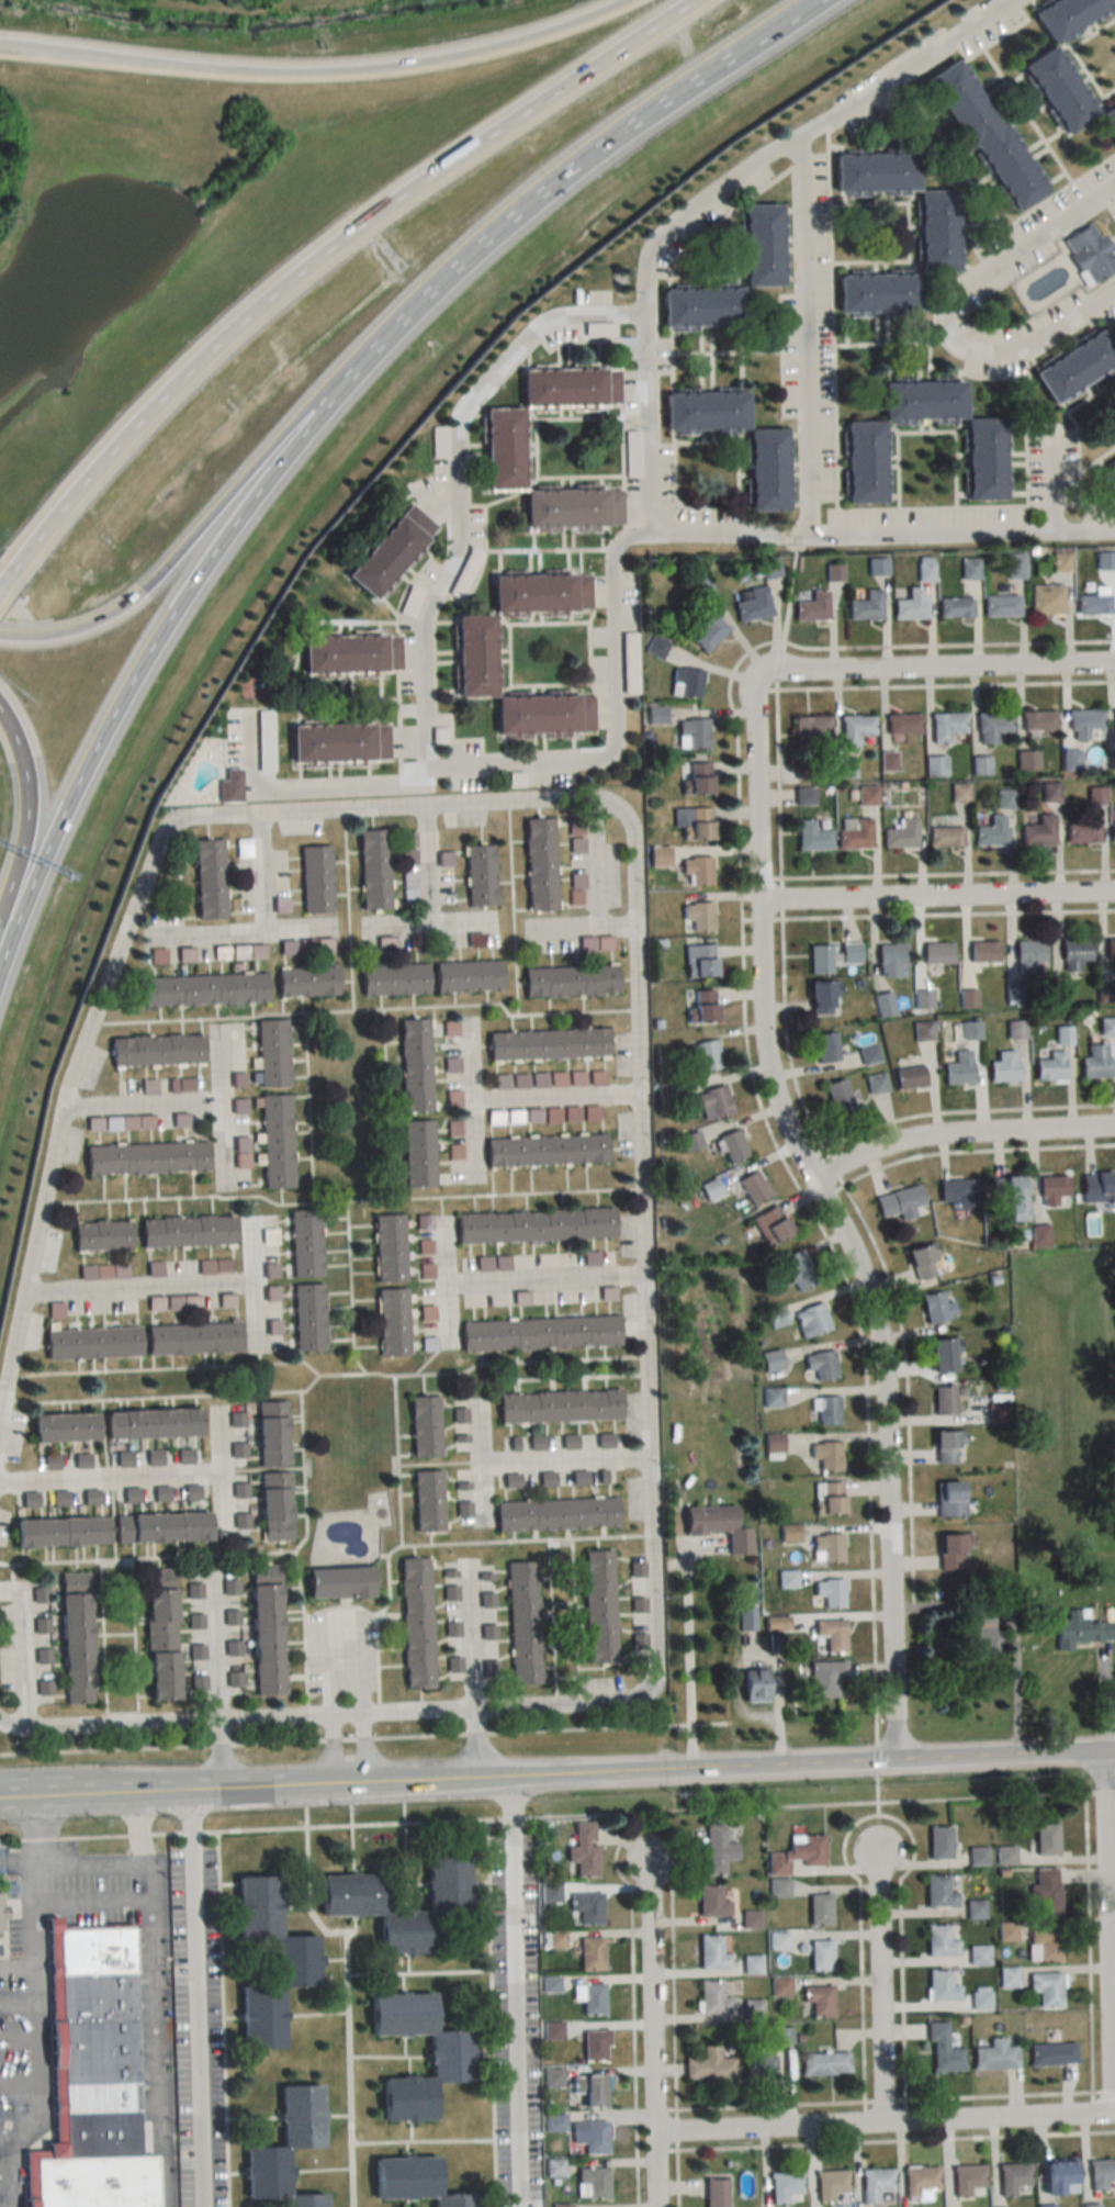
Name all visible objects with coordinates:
building: (1067, 14)
road: (3, 43)
road: (90, 54)
road: (401, 61)
building: (1057, 90)
building: (1108, 117)
building: (983, 135)
road: (796, 139)
road: (469, 145)
road: (553, 184)
building: (935, 232)
building: (759, 245)
building: (1090, 251)
building: (876, 293)
road: (948, 313)
road: (806, 336)
building: (1074, 368)
building: (570, 388)
road: (646, 429)
road: (120, 432)
building: (503, 449)
building: (982, 460)
building: (861, 462)
building: (765, 471)
building: (1108, 477)
road: (455, 483)
road: (232, 498)
road: (882, 537)
building: (388, 550)
building: (1015, 565)
building: (969, 568)
building: (539, 593)
building: (1047, 600)
building: (911, 604)
building: (1093, 604)
building: (754, 605)
building: (1001, 605)
building: (866, 606)
building: (812, 607)
building: (956, 607)
road: (76, 625)
building: (706, 631)
building: (656, 648)
road: (146, 652)
building: (350, 654)
building: (472, 656)
road: (937, 670)
building: (686, 683)
building: (542, 715)
building: (655, 716)
building: (232, 718)
building: (1039, 720)
building: (903, 724)
building: (1083, 724)
road: (612, 726)
building: (947, 726)
building: (992, 726)
building: (855, 728)
road: (12, 731)
building: (692, 733)
building: (337, 742)
building: (808, 743)
building: (264, 760)
building: (1071, 760)
building: (935, 765)
building: (845, 766)
building: (697, 778)
building: (229, 786)
road: (308, 788)
building: (1050, 792)
building: (867, 795)
building: (1096, 795)
building: (806, 796)
building: (1005, 799)
building: (695, 824)
building: (1039, 831)
building: (855, 832)
building: (993, 832)
building: (1113, 832)
building: (1083, 833)
building: (902, 834)
building: (812, 836)
building: (945, 837)
road: (26, 839)
building: (575, 845)
building: (241, 848)
building: (407, 848)
building: (658, 856)
road: (594, 861)
building: (539, 864)
road: (428, 866)
building: (372, 870)
building: (697, 871)
road: (266, 872)
building: (478, 875)
building: (207, 880)
building: (315, 880)
building: (409, 884)
building: (576, 888)
road: (936, 897)
building: (698, 919)
road: (581, 925)
road: (429, 926)
road: (241, 929)
road: (5, 937)
building: (1111, 949)
building: (984, 952)
building: (1029, 952)
building: (849, 953)
building: (937, 953)
building: (1074, 953)
building: (819, 960)
building: (890, 960)
building: (698, 961)
building: (466, 977)
building: (392, 981)
building: (305, 982)
building: (568, 982)
building: (202, 990)
building: (1059, 992)
building: (821, 997)
building: (924, 999)
road: (99, 1001)
building: (885, 1004)
building: (700, 1007)
building: (1107, 1027)
building: (450, 1029)
building: (1017, 1029)
building: (970, 1030)
building: (923, 1031)
building: (1063, 1035)
building: (545, 1044)
building: (825, 1048)
building: (155, 1050)
building: (271, 1053)
building: (868, 1054)
building: (705, 1055)
building: (1095, 1062)
building: (414, 1065)
building: (1003, 1066)
building: (1050, 1067)
building: (958, 1068)
building: (909, 1077)
building: (876, 1083)
road: (554, 1095)
building: (837, 1096)
road: (471, 1099)
building: (712, 1103)
road: (140, 1105)
road: (221, 1107)
road: (959, 1135)
building: (275, 1142)
building: (689, 1142)
building: (731, 1145)
building: (544, 1151)
building: (240, 1152)
building: (417, 1154)
building: (144, 1158)
building: (1097, 1187)
building: (752, 1188)
building: (710, 1189)
building: (1054, 1191)
building: (960, 1192)
building: (1007, 1196)
building: (899, 1201)
road: (833, 1217)
building: (423, 1223)
building: (770, 1225)
building: (533, 1226)
building: (184, 1232)
building: (100, 1236)
building: (304, 1244)
building: (424, 1246)
building: (387, 1248)
building: (921, 1263)
building: (213, 1267)
building: (425, 1271)
building: (796, 1271)
road: (446, 1276)
road: (544, 1282)
road: (255, 1285)
road: (139, 1287)
building: (936, 1308)
building: (427, 1314)
building: (776, 1317)
building: (307, 1319)
building: (811, 1320)
building: (391, 1323)
building: (538, 1334)
building: (191, 1338)
building: (90, 1344)
building: (939, 1356)
building: (770, 1360)
building: (821, 1364)
building: (772, 1397)
building: (943, 1401)
building: (557, 1405)
building: (826, 1410)
building: (994, 1413)
building: (236, 1420)
building: (150, 1424)
building: (424, 1426)
building: (60, 1429)
building: (270, 1434)
building: (568, 1442)
building: (536, 1443)
building: (946, 1446)
building: (238, 1449)
building: (825, 1454)
building: (183, 1457)
road: (480, 1461)
road: (564, 1463)
road: (647, 1468)
road: (219, 1472)
road: (110, 1477)
building: (578, 1477)
building: (545, 1478)
building: (240, 1490)
building: (190, 1492)
building: (160, 1493)
building: (129, 1495)
building: (826, 1498)
building: (948, 1498)
building: (58, 1499)
building: (426, 1501)
building: (272, 1506)
building: (463, 1509)
building: (554, 1514)
building: (716, 1525)
building: (160, 1528)
building: (59, 1534)
building: (826, 1548)
building: (950, 1549)
building: (337, 1582)
building: (829, 1592)
building: (597, 1605)
building: (415, 1622)
building: (522, 1622)
building: (264, 1629)
building: (1079, 1629)
building: (983, 1632)
building: (830, 1634)
building: (158, 1635)
road: (470, 1637)
building: (74, 1638)
road: (22, 1651)
road: (687, 1658)
building: (824, 1678)
road: (215, 1681)
building: (751, 1685)
road: (1013, 1689)
road: (473, 1743)
road: (360, 1749)
road: (334, 1750)
road: (793, 1761)
road: (876, 1774)
road: (376, 1780)
road: (251, 1784)
road: (206, 1786)
road: (164, 1788)
road: (68, 1792)
road: (1099, 1792)
road: (981, 1797)
road: (878, 1814)
road: (438, 1818)
building: (1044, 1839)
building: (937, 1842)
road: (37, 1845)
building: (582, 1849)
building: (714, 1850)
building: (795, 1853)
building: (976, 1855)
building: (1004, 1855)
road: (616, 1857)
road: (123, 1859)
building: (777, 1887)
building: (349, 1891)
building: (937, 1891)
building: (1044, 1892)
road: (93, 1897)
building: (710, 1902)
building: (585, 1907)
building: (819, 1908)
building: (973, 1908)
building: (5, 1914)
building: (750, 1919)
road: (34, 1925)
road: (1105, 1932)
building: (938, 1941)
road: (1089, 1942)
building: (1041, 1943)
building: (589, 1953)
building: (711, 1953)
building: (819, 1954)
building: (292, 1961)
building: (751, 1964)
building: (550, 1984)
building: (778, 1985)
building: (941, 1985)
road: (879, 1987)
building: (1045, 1988)
road: (515, 1990)
road: (195, 1996)
building: (589, 1998)
building: (712, 1998)
building: (818, 1999)
road: (18, 2003)
road: (652, 2030)
road: (156, 2031)
road: (19, 2035)
building: (780, 2036)
building: (594, 2046)
building: (941, 2050)
building: (1050, 2054)
building: (992, 2055)
building: (447, 2057)
building: (823, 2064)
building: (708, 2066)
building: (759, 2066)
building: (92, 2077)
road: (20, 2080)
building: (590, 2087)
road: (40, 2091)
road: (1104, 2091)
road: (1000, 2095)
road: (883, 2098)
road: (769, 2104)
road: (883, 2124)
road: (678, 2128)
road: (15, 2129)
building: (589, 2136)
road: (898, 2139)
building: (284, 2148)
road: (7, 2170)
building: (1102, 2175)
building: (1057, 2176)
road: (680, 2177)
building: (1011, 2177)
building: (965, 2178)
building: (410, 2181)
building: (919, 2181)
building: (592, 2183)
building: (874, 2184)
building: (830, 2186)
building: (784, 2187)
building: (714, 2193)
building: (1090, 2205)
building: (561, 2206)
building: (1045, 2206)

